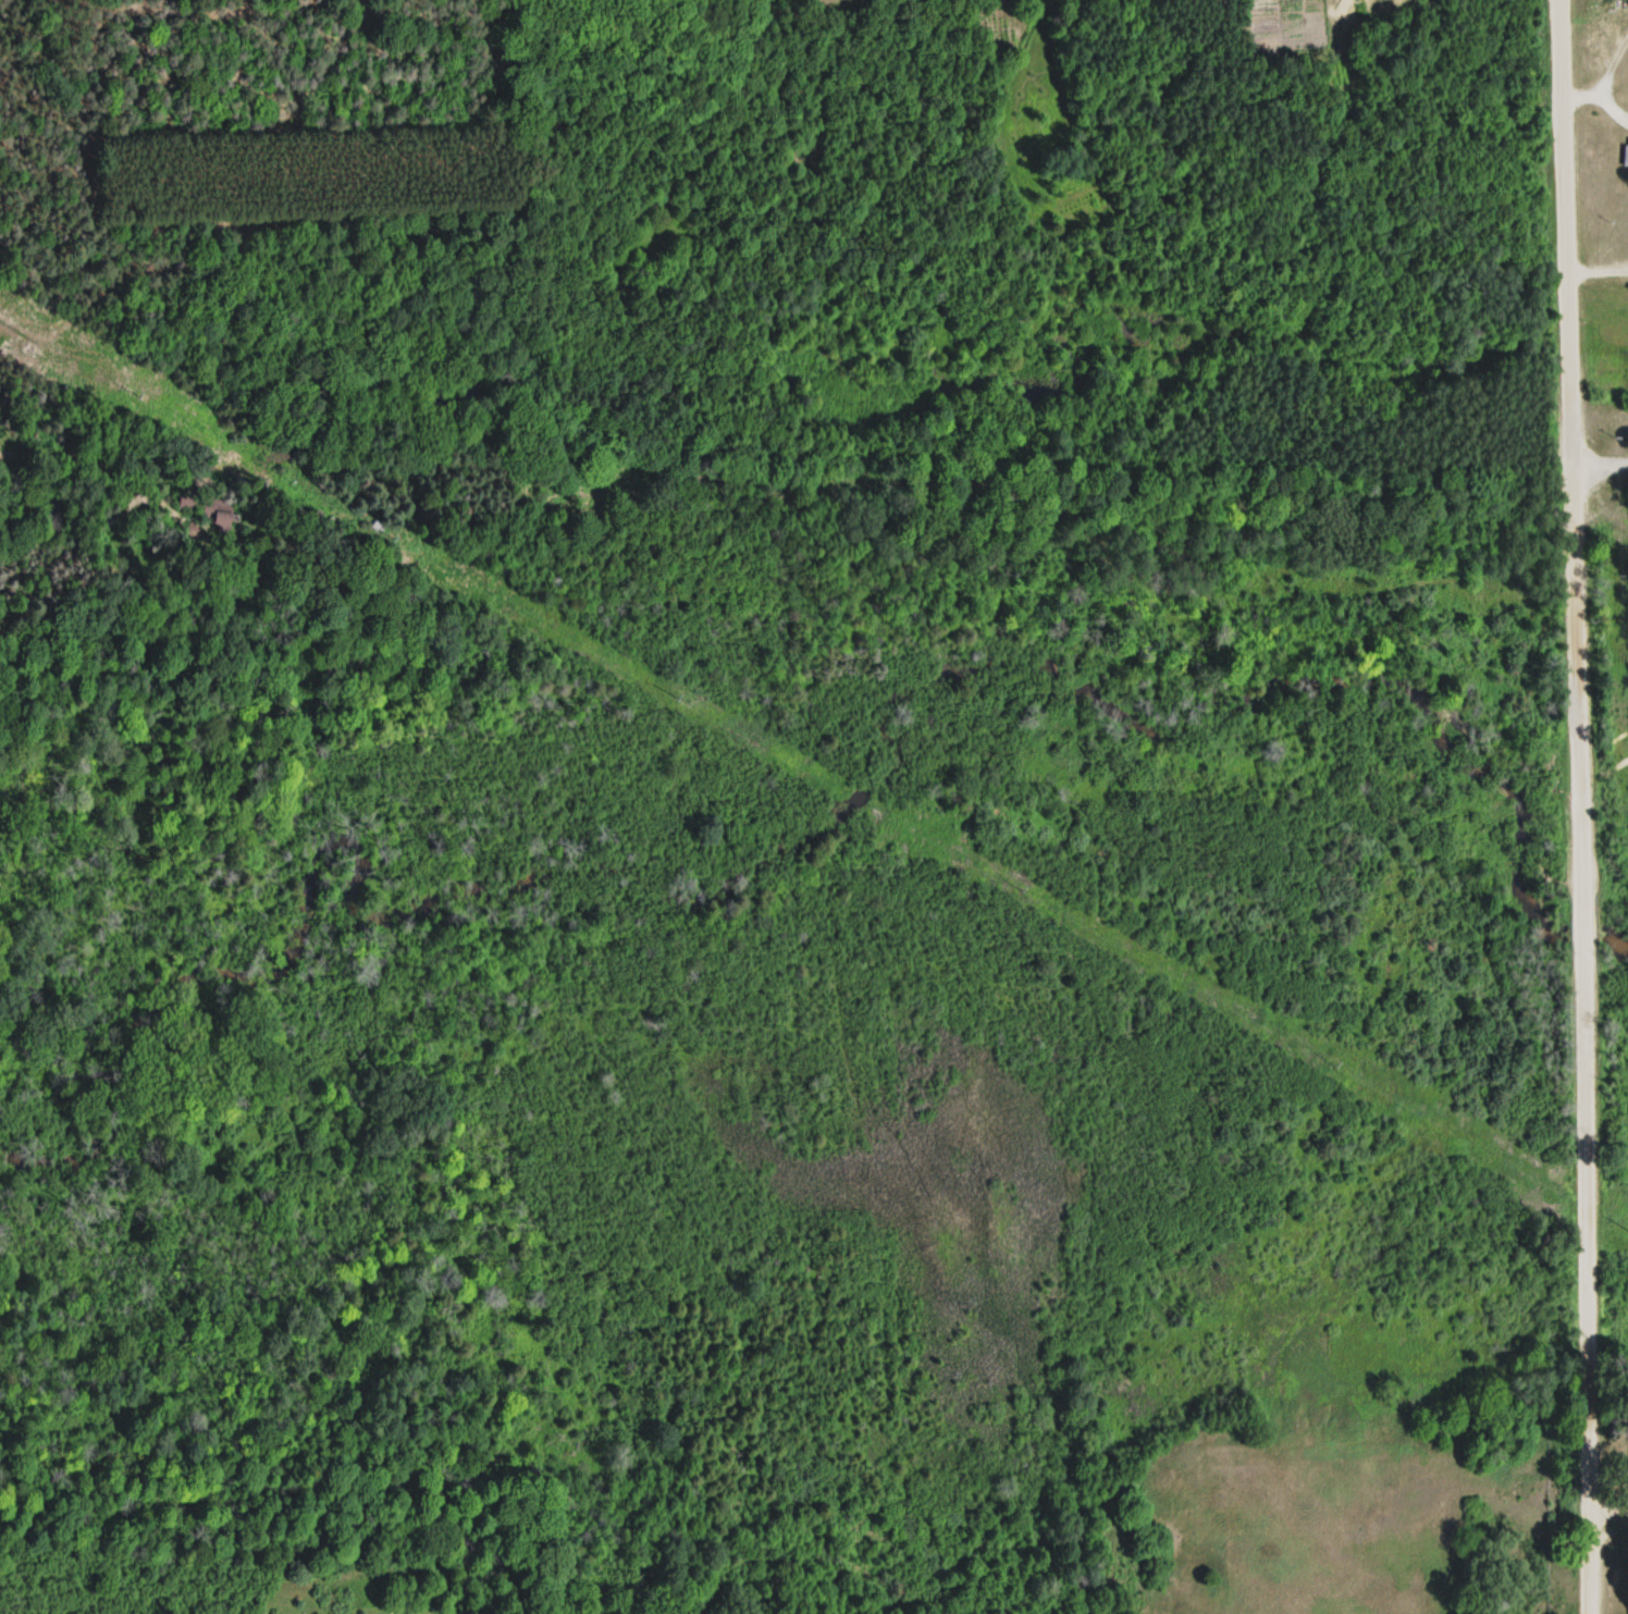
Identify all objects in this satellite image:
building: (1627, 169)
building: (207, 510)
road: (1576, 806)

